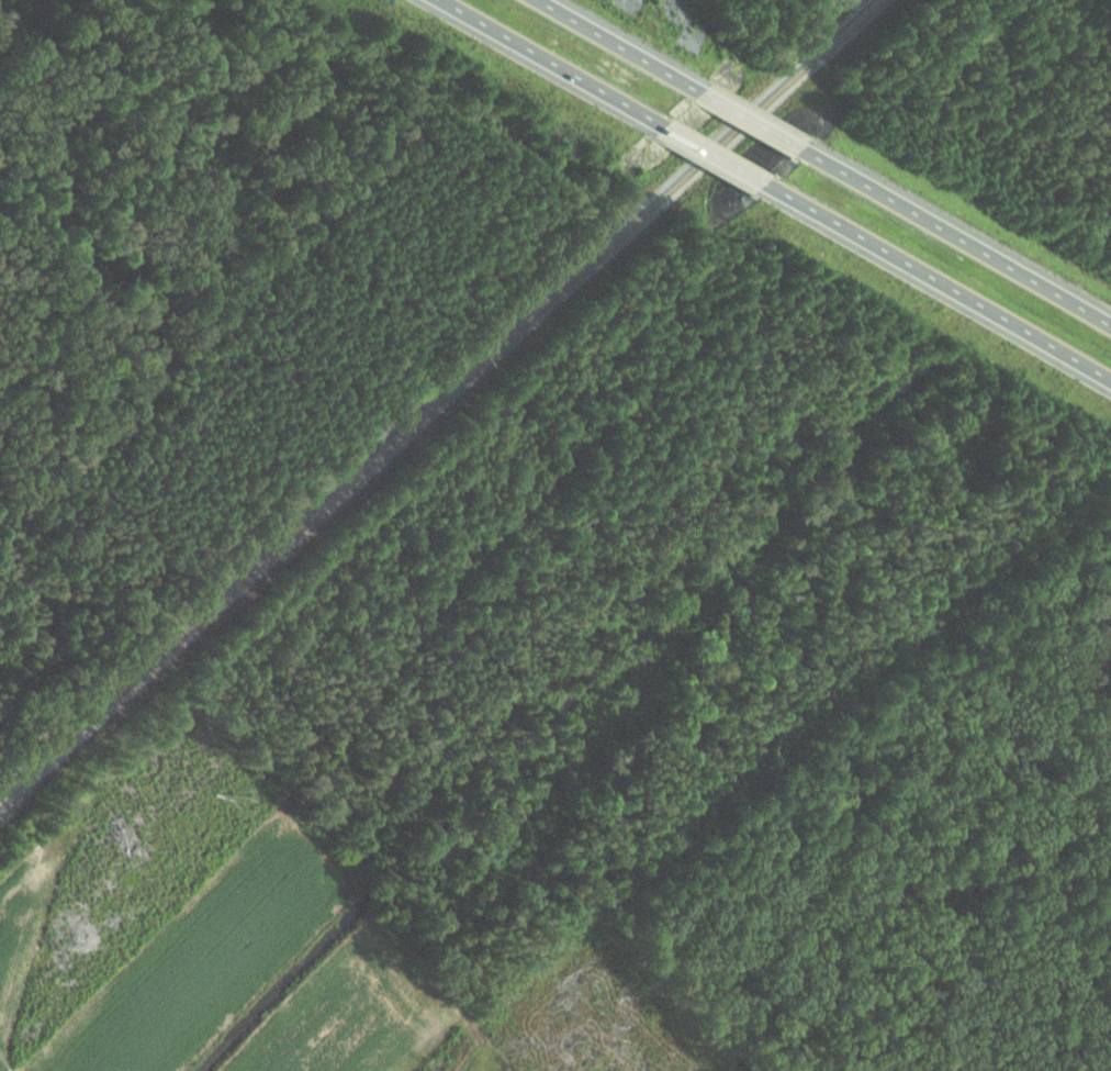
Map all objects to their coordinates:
road: (611, 46)
road: (545, 63)
road: (742, 120)
road: (705, 154)
road: (951, 237)
road: (932, 281)
railway: (439, 401)

